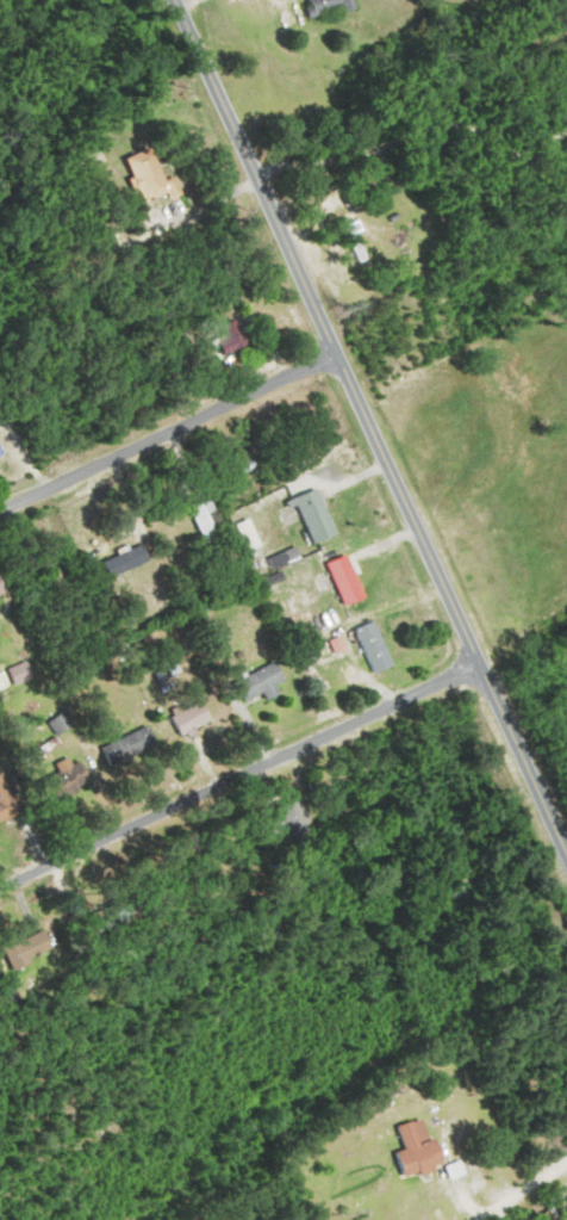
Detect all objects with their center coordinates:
building: (331, 5)
road: (543, 136)
road: (390, 141)
building: (152, 175)
building: (418, 231)
building: (231, 337)
road: (370, 427)
road: (168, 431)
building: (0, 453)
building: (249, 457)
building: (319, 515)
building: (208, 518)
building: (132, 557)
building: (349, 580)
building: (2, 587)
building: (378, 646)
building: (24, 673)
building: (263, 683)
building: (194, 718)
building: (63, 724)
building: (132, 745)
building: (75, 775)
road: (238, 775)
building: (13, 800)
building: (299, 817)
building: (40, 945)
building: (423, 1150)
road: (523, 1190)
building: (559, 1202)

